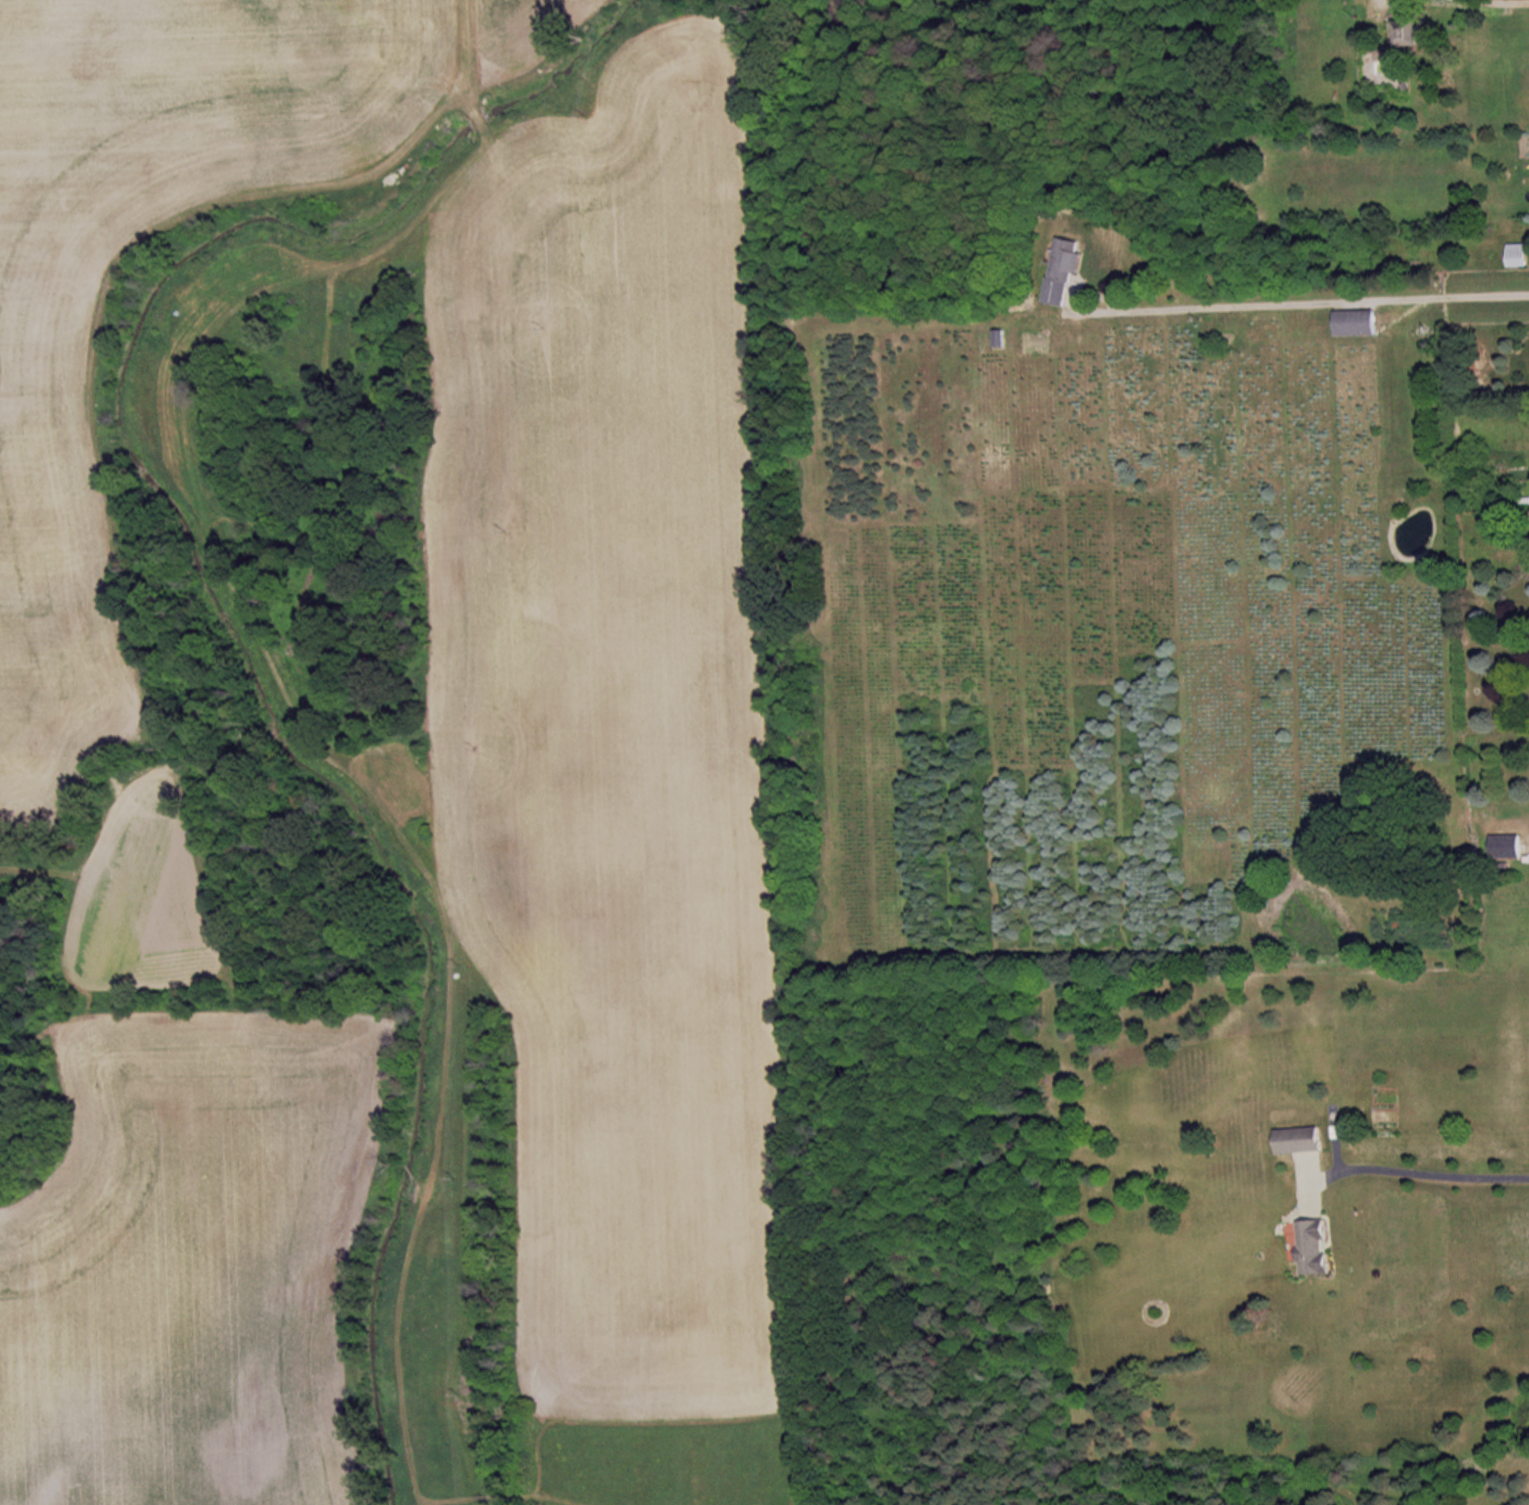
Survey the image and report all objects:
building: (1413, 35)
building: (1520, 256)
building: (1064, 270)
building: (1358, 324)
building: (1508, 847)
building: (1301, 1142)
building: (1316, 1248)

